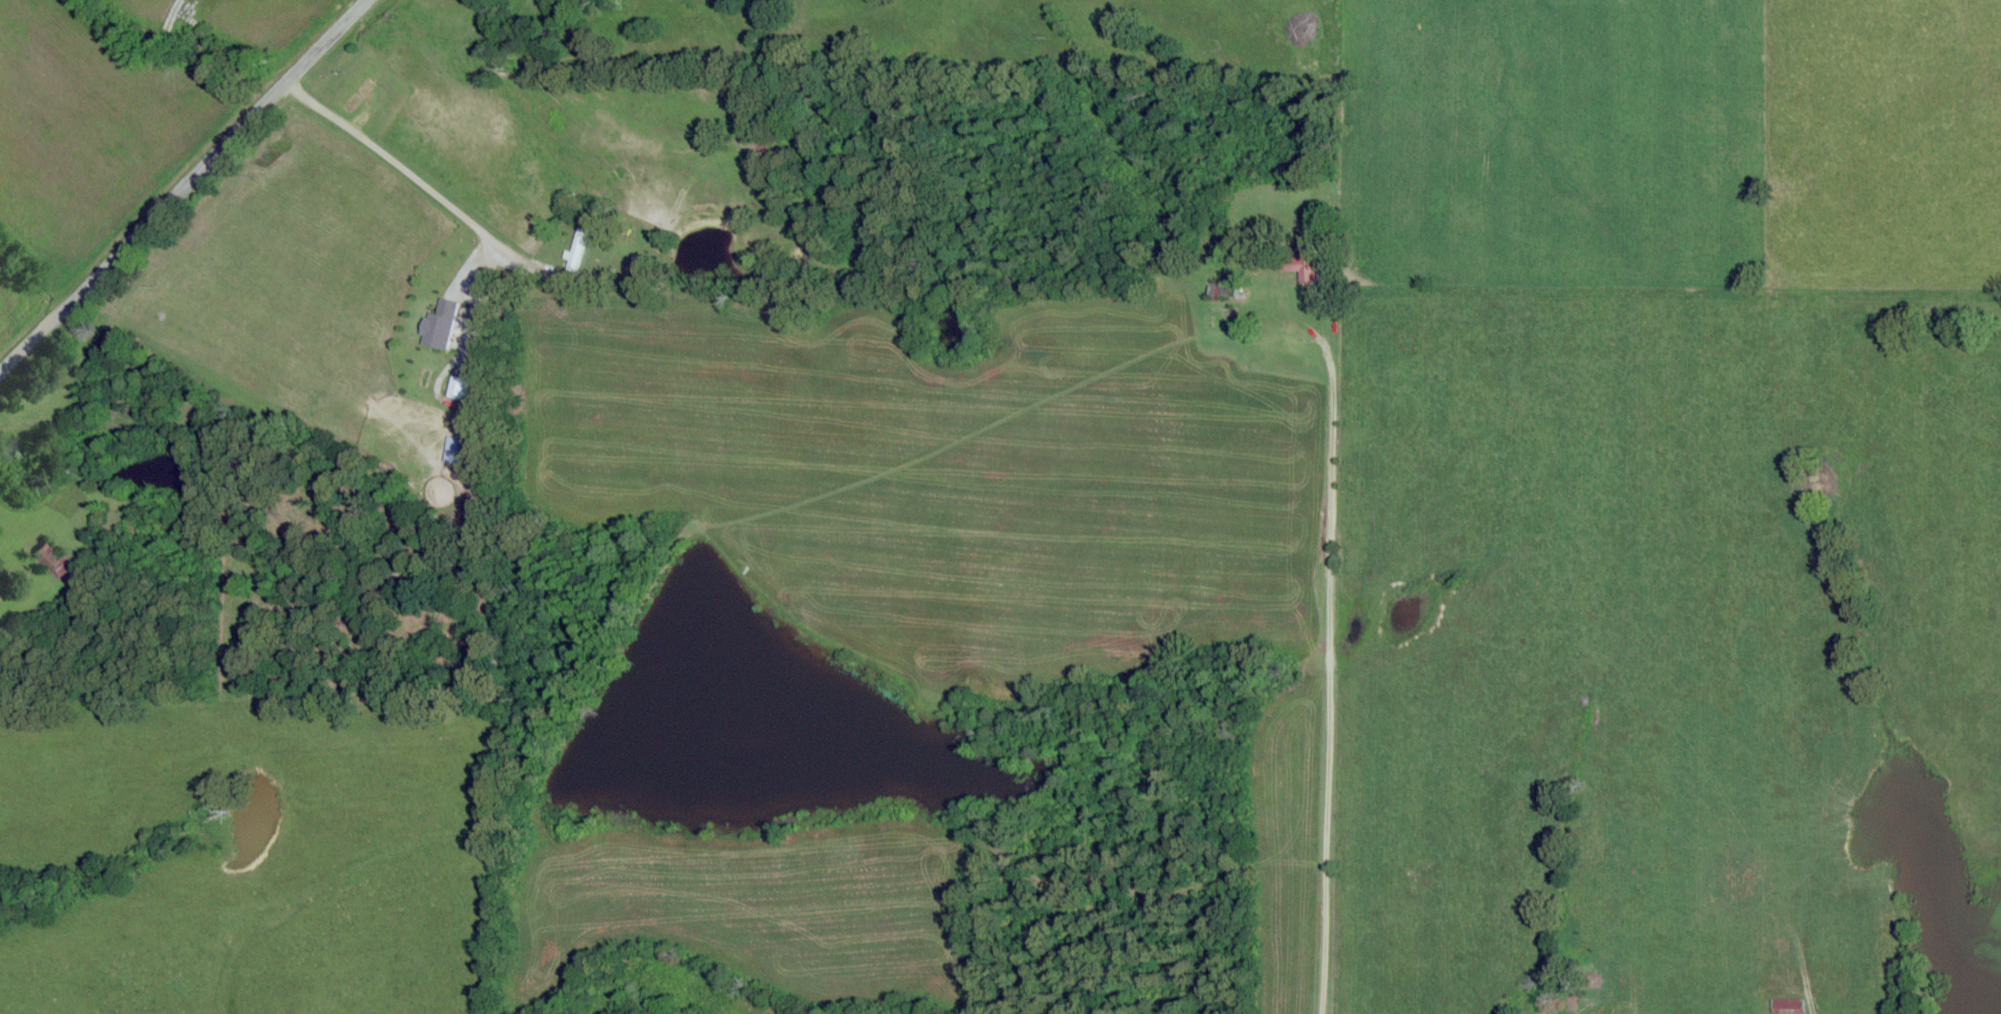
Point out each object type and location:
building: (355, 97)
road: (181, 184)
building: (575, 250)
building: (636, 265)
building: (1301, 267)
building: (1222, 291)
building: (437, 326)
building: (455, 388)
building: (459, 451)
building: (48, 557)
road: (1320, 632)
building: (1784, 1006)

